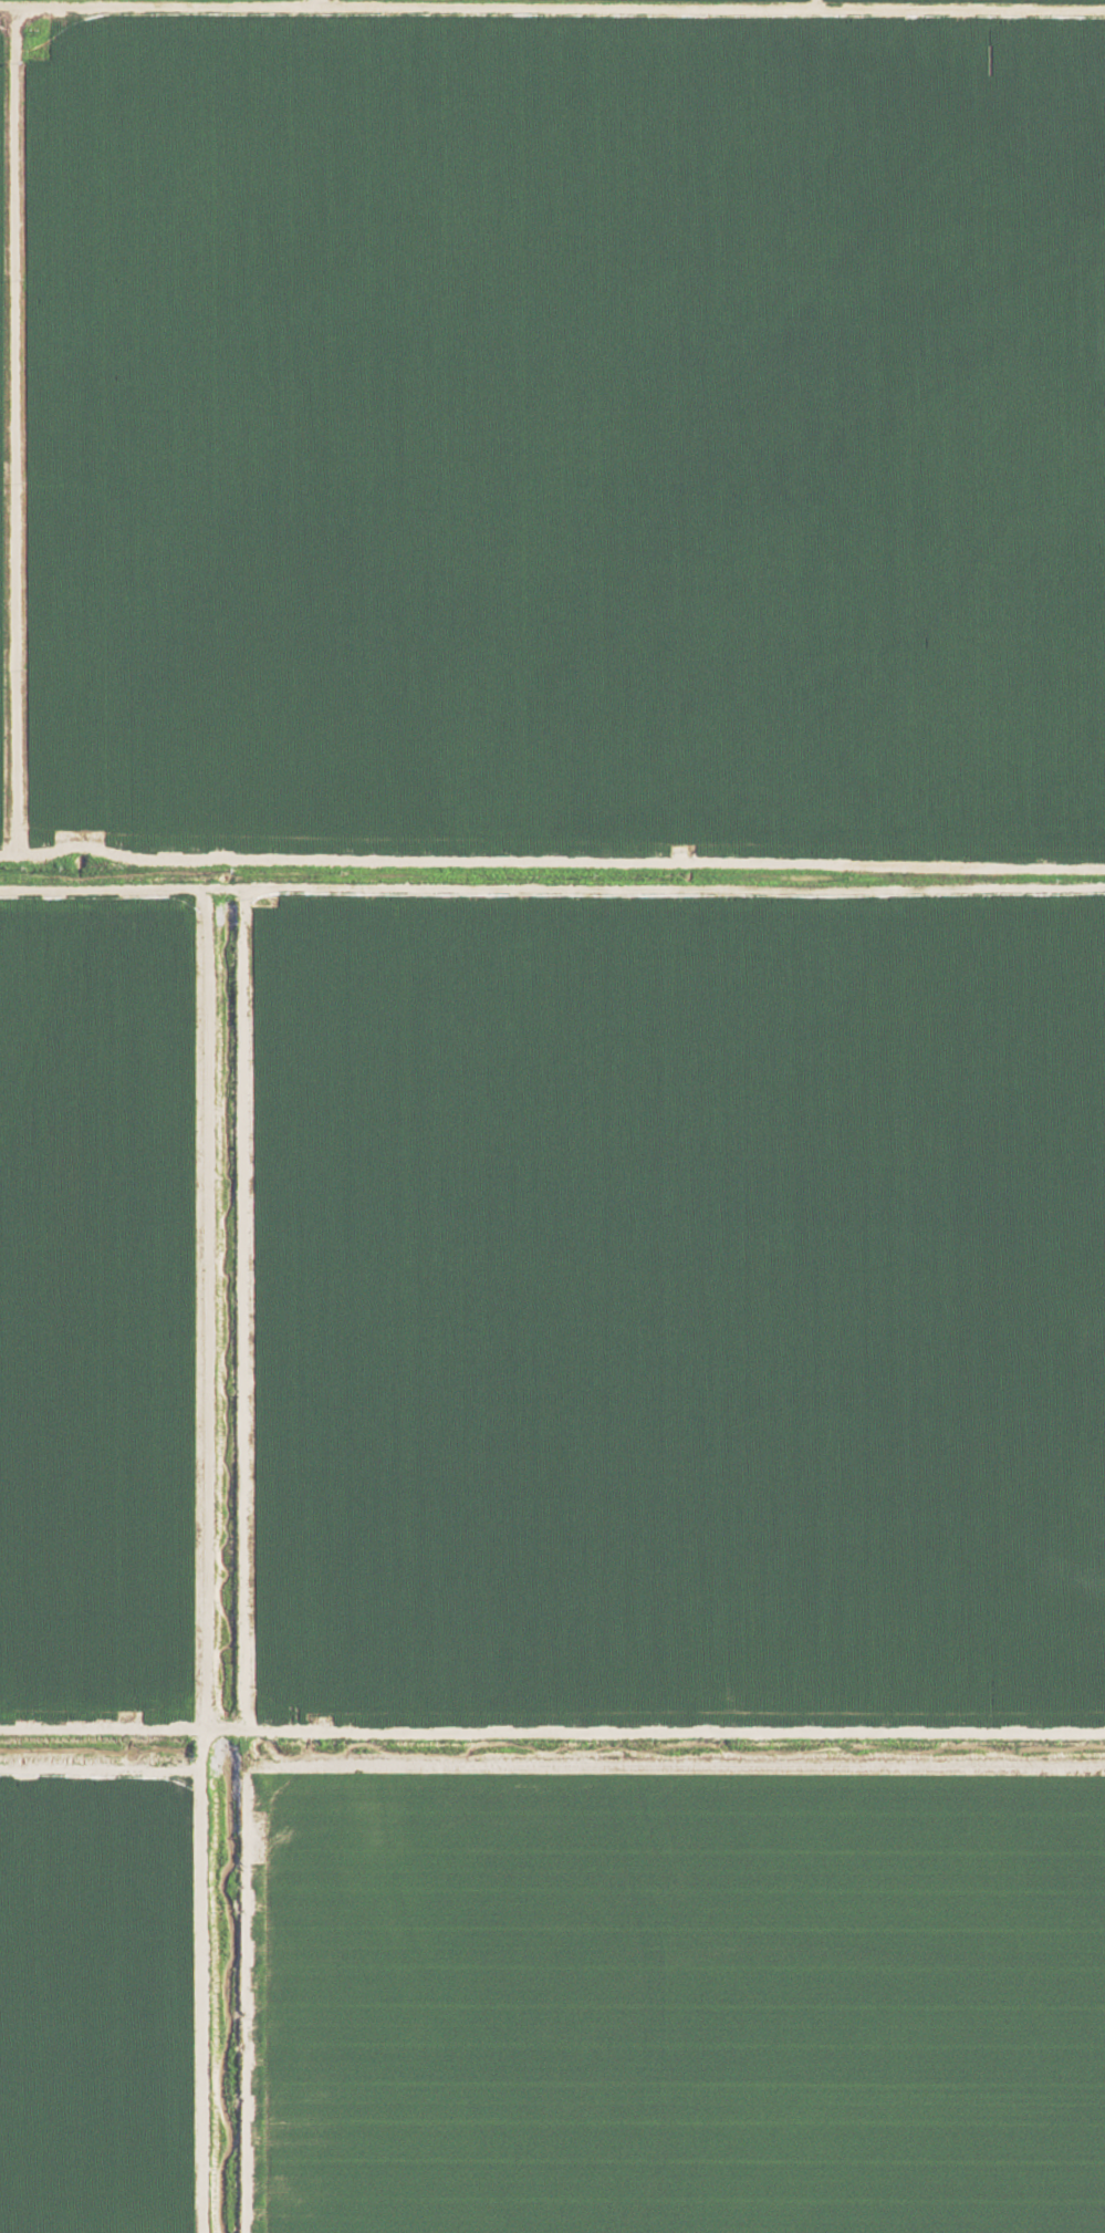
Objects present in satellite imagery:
road: (1080, 0)

